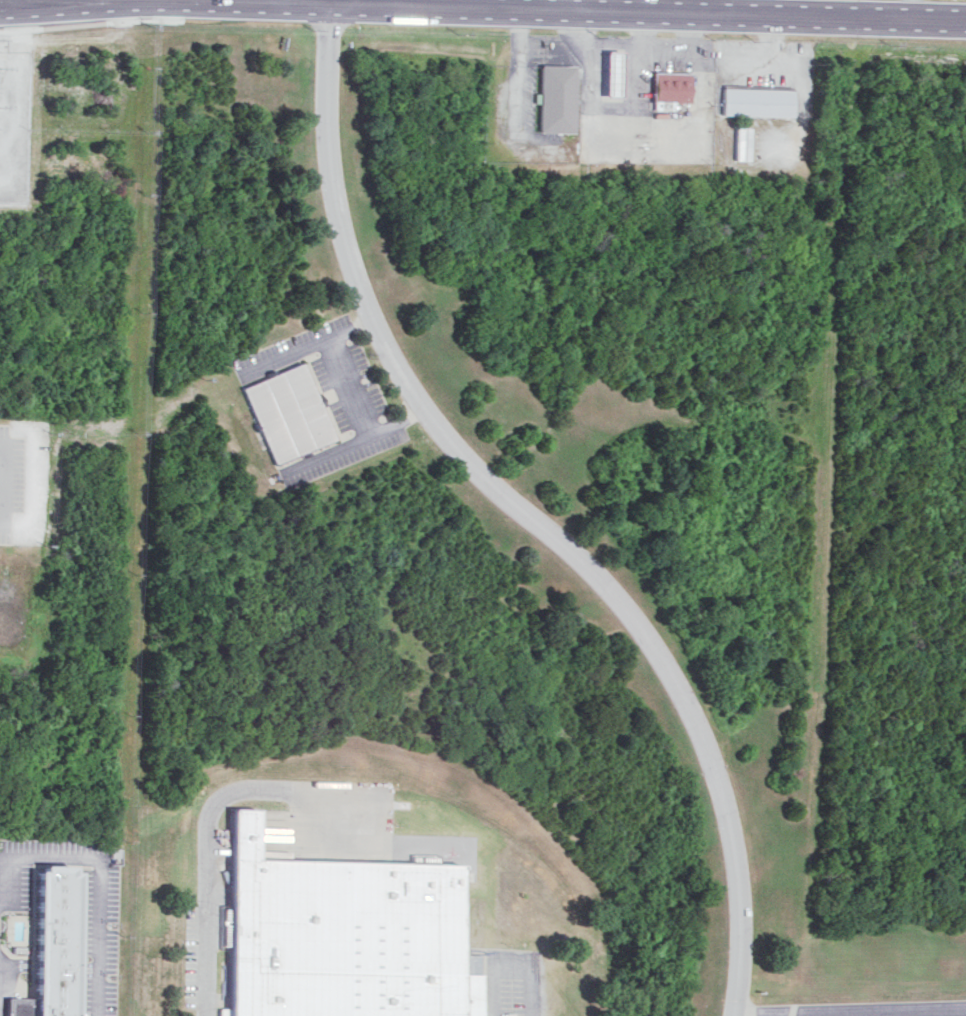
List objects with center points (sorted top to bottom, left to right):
road: (267, 4)
road: (111, 5)
road: (570, 6)
road: (692, 8)
road: (163, 9)
road: (754, 9)
road: (910, 11)
road: (646, 14)
building: (609, 73)
gas station: (609, 73)
building: (669, 86)
building: (555, 98)
building: (757, 101)
power substation: (14, 117)
road: (621, 137)
building: (741, 143)
road: (346, 391)
building: (284, 416)
road: (528, 514)
road: (98, 868)
road: (209, 871)
building: (343, 938)
building: (50, 946)
road: (508, 965)
road: (848, 1012)

